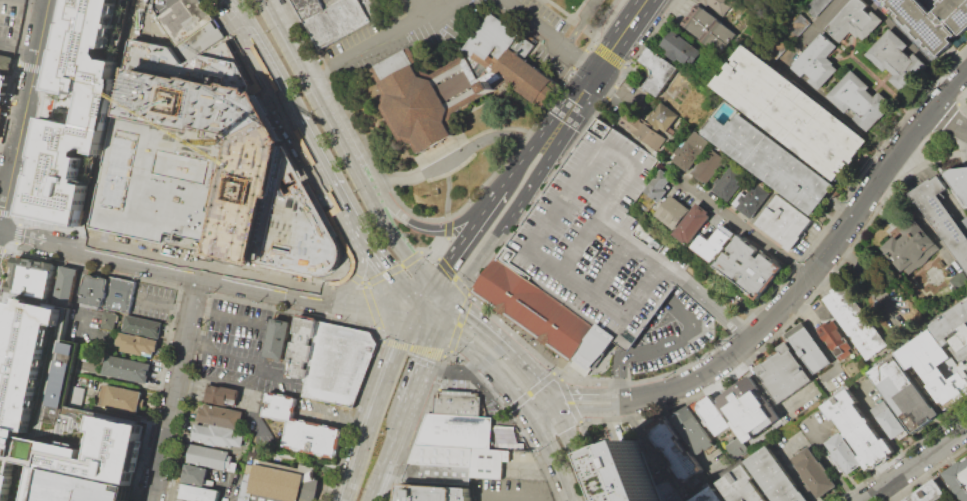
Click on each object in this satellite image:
road: (168, 1)
building: (884, 1)
road: (34, 2)
parking lot: (163, 5)
building: (720, 5)
road: (420, 7)
building: (330, 18)
building: (934, 20)
building: (853, 22)
parking lot: (10, 23)
road: (532, 23)
road: (580, 24)
building: (799, 24)
building: (191, 28)
building: (711, 30)
road: (21, 33)
parking lot: (459, 34)
road: (621, 34)
road: (380, 35)
road: (908, 42)
road: (17, 46)
building: (681, 48)
road: (600, 49)
road: (261, 58)
road: (580, 58)
building: (896, 59)
building: (817, 62)
building: (5, 63)
road: (30, 67)
traffic signals: (597, 70)
building: (657, 70)
road: (46, 71)
road: (807, 83)
building: (457, 85)
building: (3, 86)
road: (314, 90)
road: (583, 90)
building: (859, 100)
road: (43, 108)
building: (76, 109)
road: (24, 110)
building: (1, 113)
building: (792, 113)
building: (663, 116)
road: (581, 119)
road: (556, 121)
road: (948, 121)
road: (354, 125)
building: (642, 130)
road: (936, 132)
road: (284, 134)
road: (632, 139)
road: (7, 148)
building: (694, 151)
road: (522, 159)
road: (927, 159)
road: (454, 160)
road: (319, 161)
building: (774, 161)
building: (209, 164)
building: (711, 165)
building: (959, 179)
building: (732, 182)
building: (661, 184)
road: (447, 191)
building: (754, 199)
road: (493, 200)
road: (860, 205)
road: (515, 207)
building: (674, 211)
road: (5, 212)
road: (20, 216)
road: (920, 218)
building: (943, 218)
road: (352, 219)
building: (785, 222)
road: (416, 223)
building: (695, 223)
road: (447, 227)
road: (747, 228)
road: (542, 229)
road: (16, 232)
road: (393, 235)
road: (117, 237)
parking lot: (598, 240)
road: (439, 243)
building: (716, 243)
road: (579, 244)
road: (639, 246)
road: (458, 247)
building: (911, 247)
road: (1, 249)
road: (430, 250)
road: (13, 252)
road: (374, 253)
building: (587, 256)
road: (445, 267)
road: (612, 267)
building: (750, 267)
road: (394, 268)
road: (96, 269)
road: (208, 275)
road: (354, 277)
road: (356, 277)
building: (31, 278)
building: (958, 280)
road: (6, 282)
road: (362, 282)
road: (869, 282)
road: (365, 283)
traffic signals: (434, 283)
road: (364, 285)
road: (460, 285)
building: (63, 286)
road: (402, 289)
road: (194, 290)
building: (92, 291)
road: (443, 291)
building: (119, 294)
road: (426, 294)
traffic signals: (453, 299)
road: (166, 305)
traffic signals: (418, 306)
road: (370, 307)
road: (716, 307)
road: (677, 310)
road: (291, 311)
road: (446, 311)
road: (641, 313)
road: (429, 315)
building: (107, 319)
building: (857, 320)
road: (479, 321)
road: (459, 322)
road: (407, 324)
traffic signals: (440, 324)
building: (140, 325)
parking lot: (661, 330)
building: (955, 334)
road: (378, 335)
road: (516, 336)
building: (276, 338)
road: (819, 340)
building: (839, 340)
building: (135, 344)
road: (412, 347)
road: (661, 347)
building: (808, 347)
road: (508, 350)
road: (448, 352)
road: (621, 352)
road: (445, 355)
building: (330, 360)
road: (488, 362)
road: (423, 364)
building: (934, 367)
building: (125, 368)
road: (553, 371)
road: (454, 373)
building: (787, 374)
road: (530, 375)
road: (619, 379)
parking lot: (461, 380)
road: (691, 381)
road: (593, 385)
road: (174, 387)
road: (531, 391)
road: (155, 393)
building: (220, 394)
road: (584, 394)
building: (76, 395)
building: (907, 395)
road: (187, 397)
traffic signals: (548, 397)
building: (118, 398)
road: (569, 400)
building: (456, 402)
road: (538, 403)
road: (726, 403)
road: (554, 406)
building: (748, 408)
building: (51, 409)
road: (508, 409)
building: (144, 410)
traffic signals: (528, 410)
road: (591, 410)
building: (714, 415)
traffic signals: (561, 416)
road: (336, 418)
road: (513, 418)
road: (534, 419)
road: (352, 420)
building: (889, 420)
road: (371, 422)
road: (551, 422)
road: (880, 425)
road: (418, 427)
building: (503, 427)
building: (301, 428)
traffic signals: (541, 429)
building: (789, 429)
building: (859, 429)
building: (455, 430)
building: (699, 433)
road: (511, 436)
building: (216, 438)
building: (507, 443)
building: (736, 446)
road: (390, 450)
building: (680, 450)
building: (845, 452)
building: (441, 454)
road: (823, 455)
building: (206, 457)
road: (580, 457)
road: (594, 460)
building: (487, 462)
road: (561, 463)
road: (917, 465)
building: (437, 473)
building: (634, 473)
building: (818, 474)
building: (193, 475)
building: (779, 477)
building: (959, 478)
building: (277, 481)
building: (745, 485)
building: (82, 487)
parking lot: (82, 487)
parking lot: (230, 487)
road: (226, 488)
parking lot: (511, 490)
building: (926, 492)
building: (432, 493)
building: (196, 494)
building: (715, 495)
road: (371, 497)
road: (525, 497)

